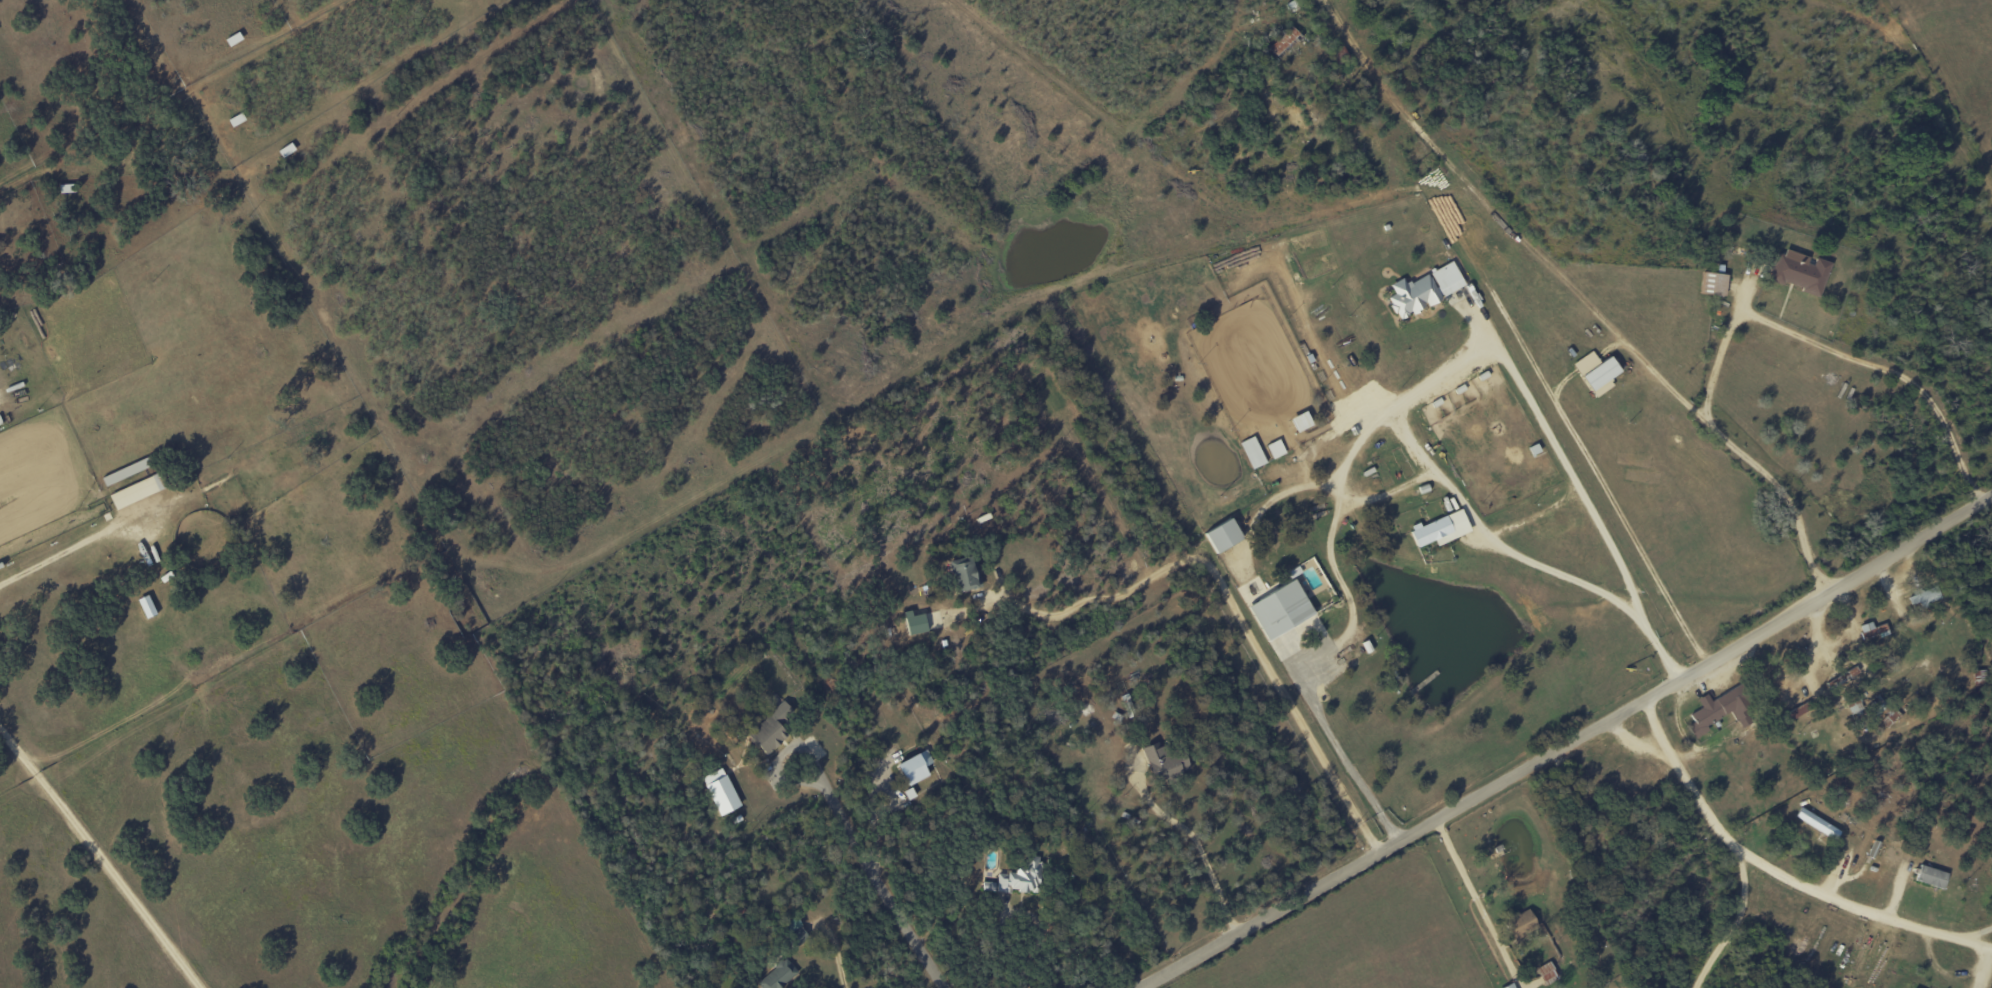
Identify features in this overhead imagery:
building: (1285, 42)
building: (235, 120)
building: (1800, 271)
building: (1447, 278)
building: (1713, 283)
building: (1412, 295)
road: (1580, 296)
road: (1838, 355)
road: (1501, 370)
building: (1596, 372)
building: (1300, 421)
road: (1407, 447)
building: (1275, 448)
building: (1252, 452)
building: (125, 471)
road: (1440, 485)
building: (135, 491)
road: (1525, 518)
building: (1440, 529)
building: (1222, 535)
building: (962, 575)
building: (1925, 597)
building: (1279, 609)
road: (1237, 614)
building: (914, 622)
building: (1871, 630)
building: (1842, 677)
building: (1854, 705)
building: (1804, 706)
building: (1720, 710)
building: (1886, 713)
building: (1788, 716)
building: (770, 728)
road: (1567, 743)
building: (1165, 763)
road: (1339, 763)
building: (914, 767)
building: (720, 791)
building: (909, 793)
building: (1817, 823)
road: (1729, 838)
road: (1203, 840)
road: (94, 864)
road: (874, 872)
building: (1931, 877)
building: (1017, 879)
road: (1820, 891)
road: (1479, 903)
building: (1521, 924)
building: (795, 932)
road: (1897, 935)
road: (1014, 951)
road: (839, 955)
building: (1547, 973)
building: (778, 975)
building: (1508, 986)

